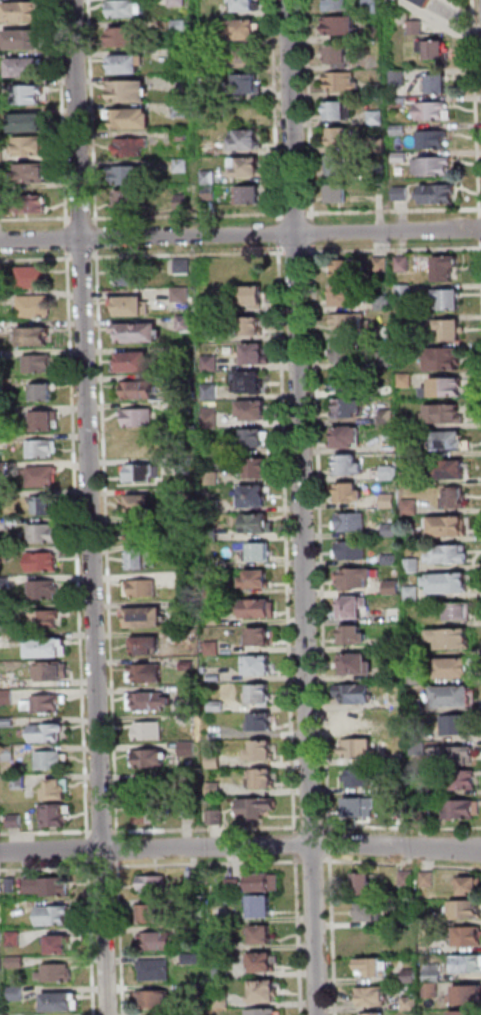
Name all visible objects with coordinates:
building: (422, 2)
building: (177, 3)
building: (246, 6)
building: (337, 6)
building: (372, 6)
building: (127, 9)
building: (24, 13)
road: (445, 19)
building: (180, 27)
building: (341, 28)
building: (417, 28)
building: (245, 31)
building: (375, 35)
building: (128, 38)
building: (25, 40)
building: (207, 40)
building: (437, 51)
building: (177, 55)
building: (337, 55)
building: (245, 59)
building: (127, 65)
building: (207, 66)
building: (26, 68)
building: (399, 78)
building: (342, 82)
building: (248, 86)
building: (440, 86)
building: (0, 88)
building: (377, 90)
building: (129, 93)
building: (30, 96)
building: (399, 104)
road: (475, 108)
road: (308, 110)
building: (180, 111)
road: (273, 112)
building: (340, 112)
building: (433, 112)
road: (61, 113)
building: (377, 119)
building: (131, 120)
building: (28, 123)
building: (400, 131)
building: (181, 137)
building: (340, 138)
building: (433, 141)
building: (248, 142)
building: (378, 146)
building: (32, 147)
building: (130, 148)
building: (2, 156)
building: (181, 167)
building: (341, 168)
building: (434, 168)
building: (249, 169)
building: (32, 173)
building: (379, 173)
building: (130, 176)
building: (209, 179)
building: (2, 184)
building: (209, 194)
building: (402, 194)
building: (339, 195)
building: (439, 195)
building: (249, 197)
building: (127, 201)
building: (182, 202)
building: (29, 206)
building: (1, 207)
road: (394, 213)
road: (295, 215)
road: (280, 216)
road: (480, 229)
road: (240, 234)
road: (312, 234)
road: (278, 235)
road: (66, 238)
road: (480, 245)
road: (394, 251)
road: (296, 253)
road: (282, 254)
road: (77, 259)
road: (36, 260)
building: (400, 262)
building: (379, 263)
building: (179, 265)
building: (344, 268)
building: (444, 268)
building: (127, 272)
building: (32, 277)
building: (402, 290)
building: (343, 294)
building: (251, 295)
building: (179, 297)
building: (445, 298)
building: (381, 300)
building: (125, 303)
building: (32, 305)
building: (346, 321)
building: (402, 322)
building: (253, 324)
building: (381, 329)
building: (447, 329)
building: (134, 330)
building: (0, 331)
building: (31, 335)
building: (404, 349)
building: (343, 350)
building: (254, 353)
building: (2, 356)
building: (381, 357)
building: (443, 357)
building: (131, 360)
building: (35, 362)
building: (208, 362)
building: (342, 379)
building: (245, 381)
building: (1, 386)
building: (442, 386)
building: (137, 388)
building: (383, 390)
building: (40, 391)
building: (208, 391)
building: (348, 406)
building: (254, 409)
building: (441, 412)
building: (385, 415)
building: (136, 416)
building: (209, 416)
building: (43, 418)
building: (346, 436)
building: (255, 437)
building: (446, 440)
building: (135, 446)
building: (3, 447)
building: (38, 448)
building: (405, 451)
building: (348, 463)
building: (256, 466)
building: (446, 468)
building: (4, 470)
building: (138, 472)
building: (386, 472)
building: (38, 475)
building: (405, 477)
building: (348, 491)
building: (254, 494)
building: (452, 496)
building: (387, 499)
building: (141, 502)
building: (41, 503)
building: (407, 505)
road: (90, 507)
road: (302, 507)
building: (258, 521)
building: (348, 521)
building: (4, 525)
building: (445, 525)
building: (388, 528)
building: (40, 531)
building: (136, 531)
building: (407, 534)
road: (286, 540)
road: (320, 540)
road: (76, 544)
building: (350, 549)
building: (260, 550)
building: (446, 553)
building: (4, 555)
building: (388, 556)
building: (137, 558)
building: (42, 560)
building: (410, 564)
building: (254, 578)
building: (354, 578)
building: (444, 582)
building: (5, 584)
building: (389, 586)
building: (140, 587)
building: (40, 589)
building: (410, 592)
building: (352, 606)
building: (258, 607)
building: (456, 610)
building: (392, 612)
building: (143, 615)
building: (44, 618)
building: (260, 634)
building: (353, 634)
building: (449, 636)
building: (391, 642)
building: (144, 644)
building: (44, 647)
building: (354, 662)
building: (259, 663)
building: (454, 667)
building: (49, 669)
building: (143, 671)
building: (391, 671)
building: (259, 692)
building: (351, 692)
building: (451, 694)
building: (6, 698)
building: (146, 699)
building: (44, 702)
building: (356, 718)
building: (262, 719)
building: (6, 723)
building: (453, 723)
building: (146, 730)
building: (45, 731)
building: (355, 746)
building: (260, 748)
building: (8, 754)
building: (453, 754)
building: (147, 757)
building: (49, 759)
building: (261, 776)
building: (356, 776)
building: (458, 779)
building: (19, 782)
building: (147, 787)
building: (56, 788)
building: (255, 805)
building: (358, 805)
building: (461, 808)
building: (422, 813)
building: (54, 814)
building: (147, 815)
building: (214, 816)
building: (16, 822)
road: (308, 826)
road: (399, 827)
road: (205, 828)
road: (103, 832)
road: (46, 833)
road: (295, 844)
road: (330, 845)
road: (240, 847)
road: (88, 850)
road: (119, 855)
road: (314, 863)
road: (208, 865)
road: (402, 866)
road: (109, 868)
building: (194, 879)
building: (408, 881)
building: (429, 881)
building: (45, 884)
building: (266, 884)
building: (155, 886)
building: (235, 886)
building: (366, 888)
building: (472, 890)
building: (13, 907)
building: (262, 908)
building: (468, 911)
building: (50, 914)
building: (155, 915)
building: (369, 915)
building: (219, 916)
building: (194, 932)
road: (299, 935)
road: (333, 935)
building: (12, 937)
road: (121, 937)
building: (263, 937)
road: (91, 938)
building: (469, 938)
building: (160, 942)
building: (57, 943)
building: (221, 945)
building: (192, 959)
building: (14, 961)
building: (263, 965)
building: (468, 966)
building: (372, 968)
building: (156, 971)
building: (50, 972)
building: (221, 972)
building: (433, 974)
building: (411, 978)
building: (0, 990)
building: (12, 992)
building: (432, 992)
building: (267, 994)
building: (468, 998)
building: (374, 999)
building: (59, 1000)
building: (158, 1001)
building: (223, 1001)
building: (411, 1005)
building: (195, 1012)
building: (264, 1013)
building: (372, 1013)
building: (15, 1014)
building: (472, 1014)

